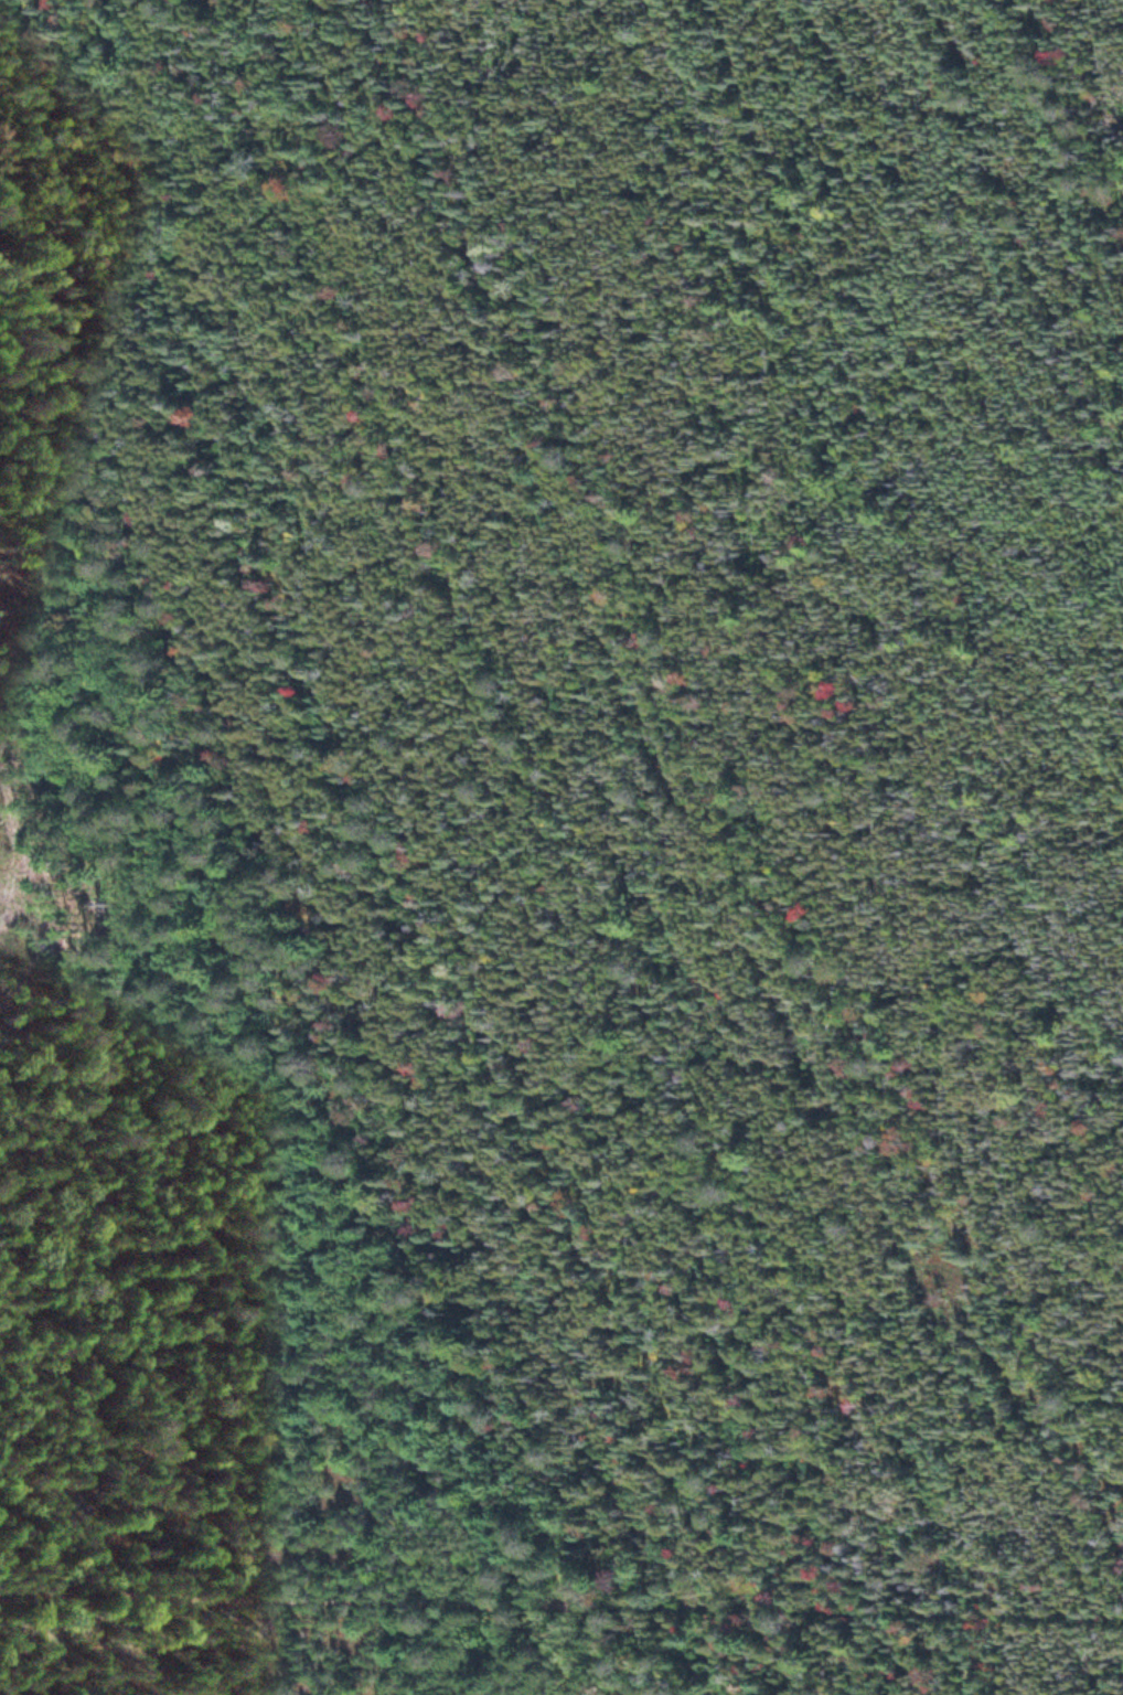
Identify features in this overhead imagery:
road: (298, 1601)

